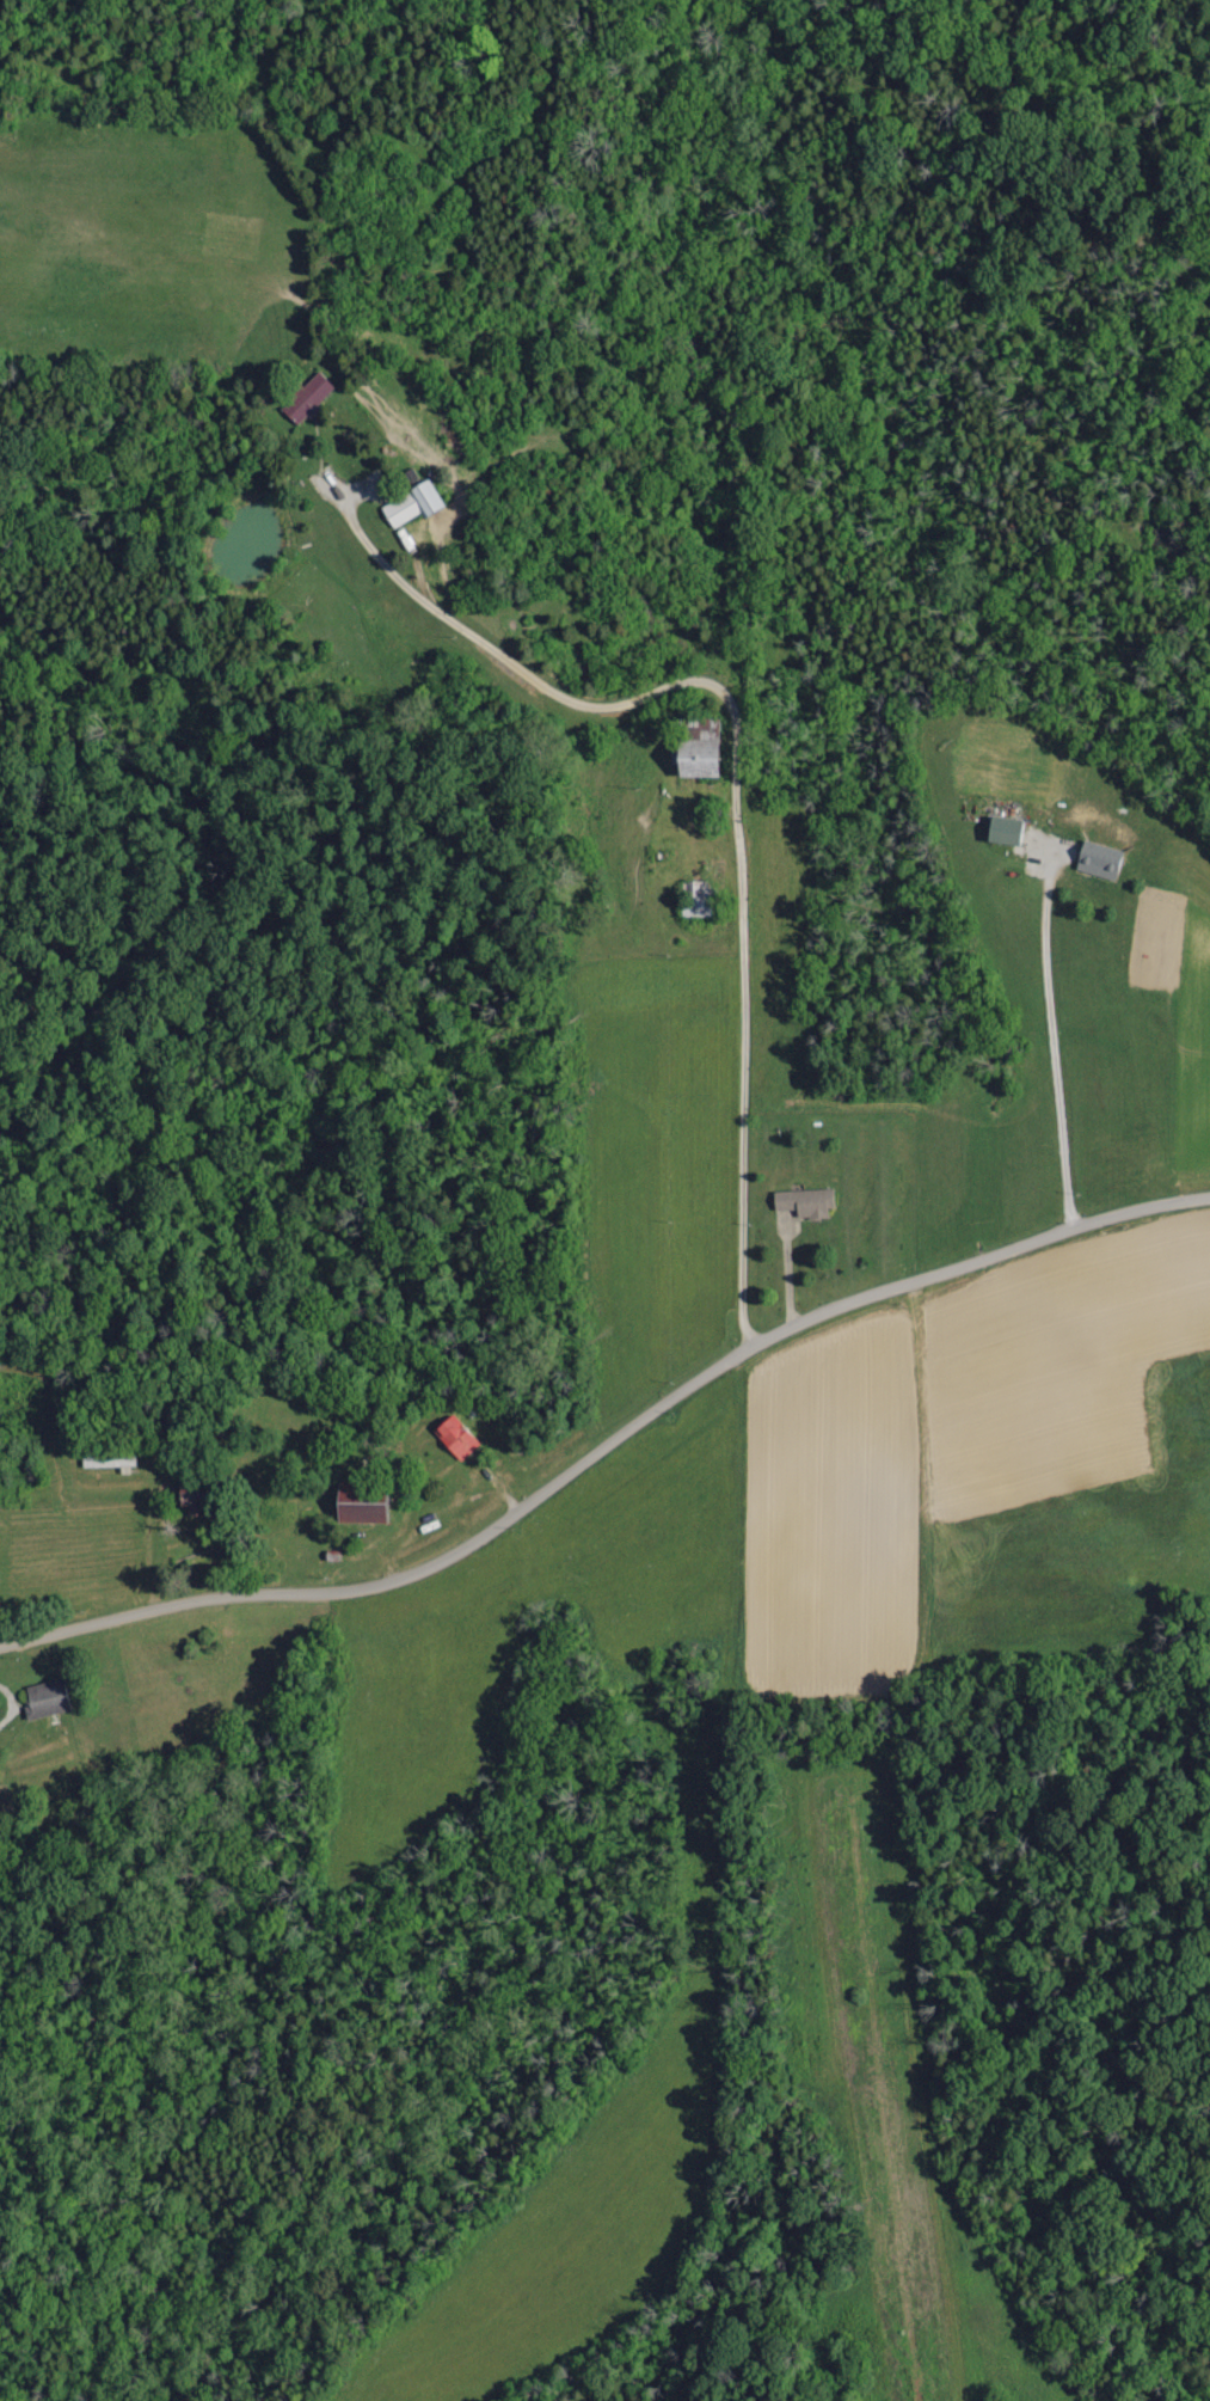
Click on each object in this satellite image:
building: (302, 399)
building: (407, 506)
road: (745, 822)
building: (999, 832)
building: (1095, 862)
road: (1054, 1047)
building: (800, 1203)
building: (452, 1439)
road: (608, 1450)
building: (105, 1462)
building: (42, 1701)

